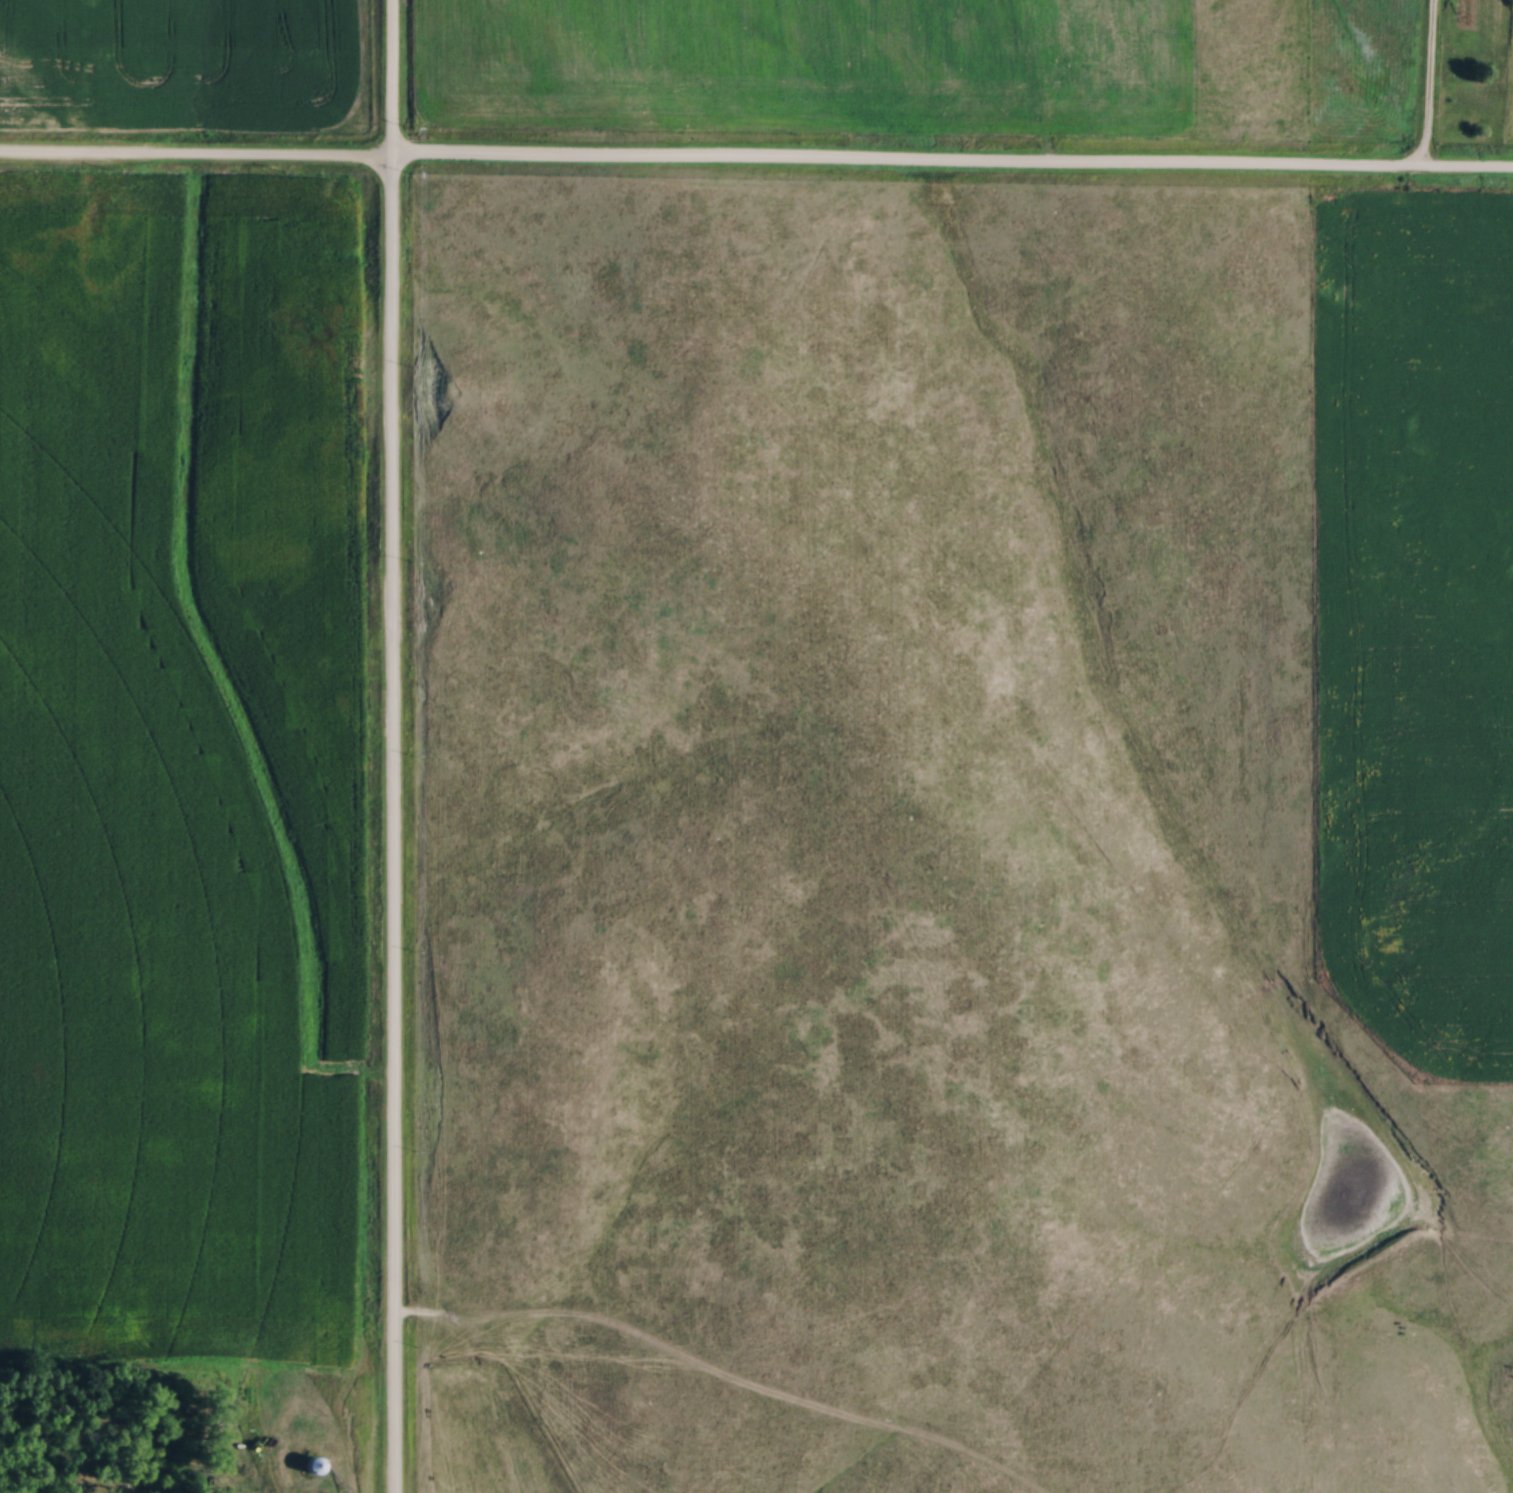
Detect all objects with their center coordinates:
road: (1429, 85)
road: (756, 164)
road: (392, 746)
building: (311, 1466)

